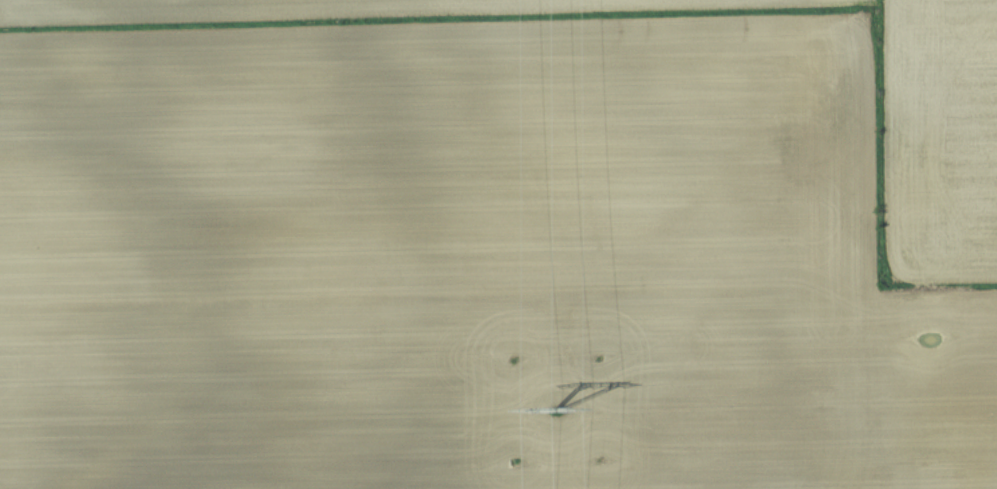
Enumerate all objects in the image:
power tower: (555, 409)

